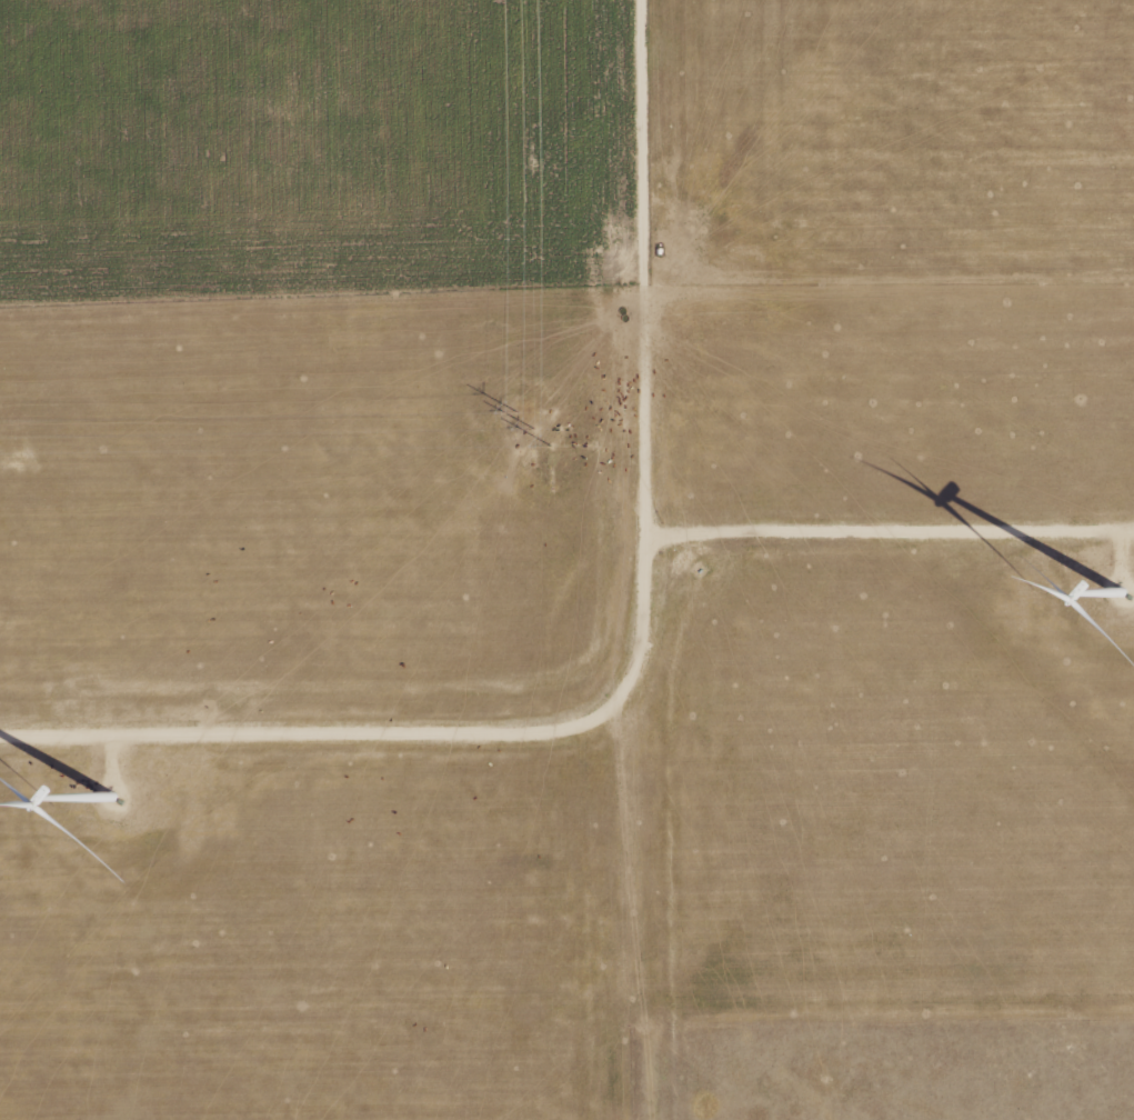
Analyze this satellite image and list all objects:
power tower: (532, 424)
wind turbine: (1113, 594)
wind turbine: (109, 797)

